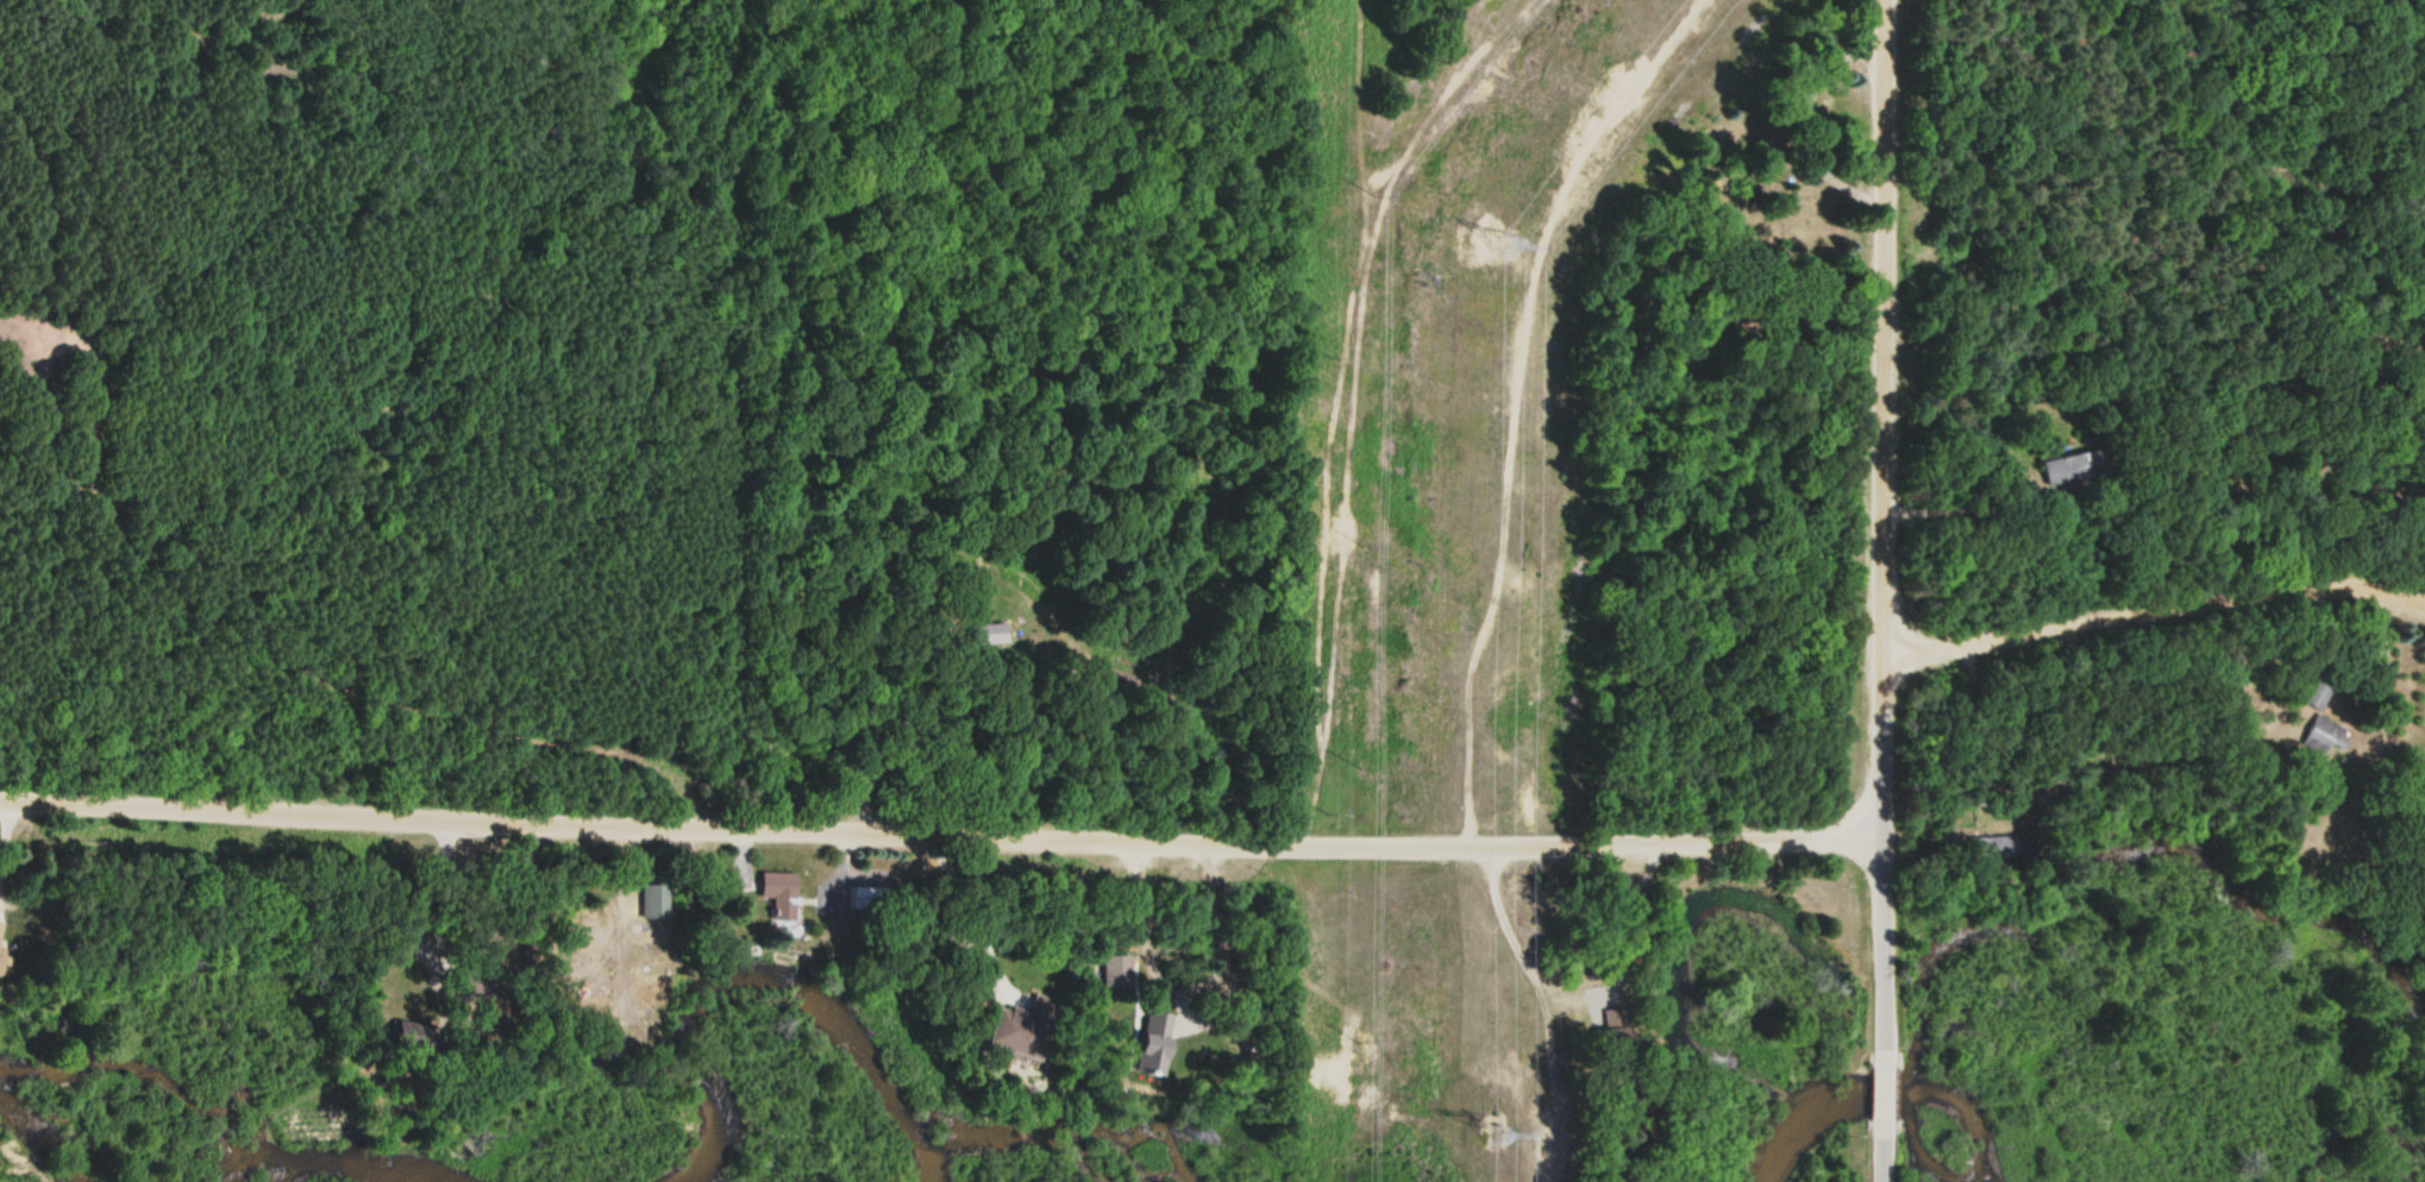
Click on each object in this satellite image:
power tower: (1499, 240)
road: (1878, 436)
building: (2068, 469)
road: (2151, 617)
building: (991, 634)
road: (934, 832)
building: (781, 886)
building: (869, 899)
road: (436, 925)
road: (1884, 963)
river: (783, 991)
building: (1028, 1027)
building: (412, 1036)
road: (1887, 1089)
river: (1885, 1096)
river: (221, 1114)
power tower: (1500, 1126)
road: (1884, 1153)
river: (2404, 1162)

